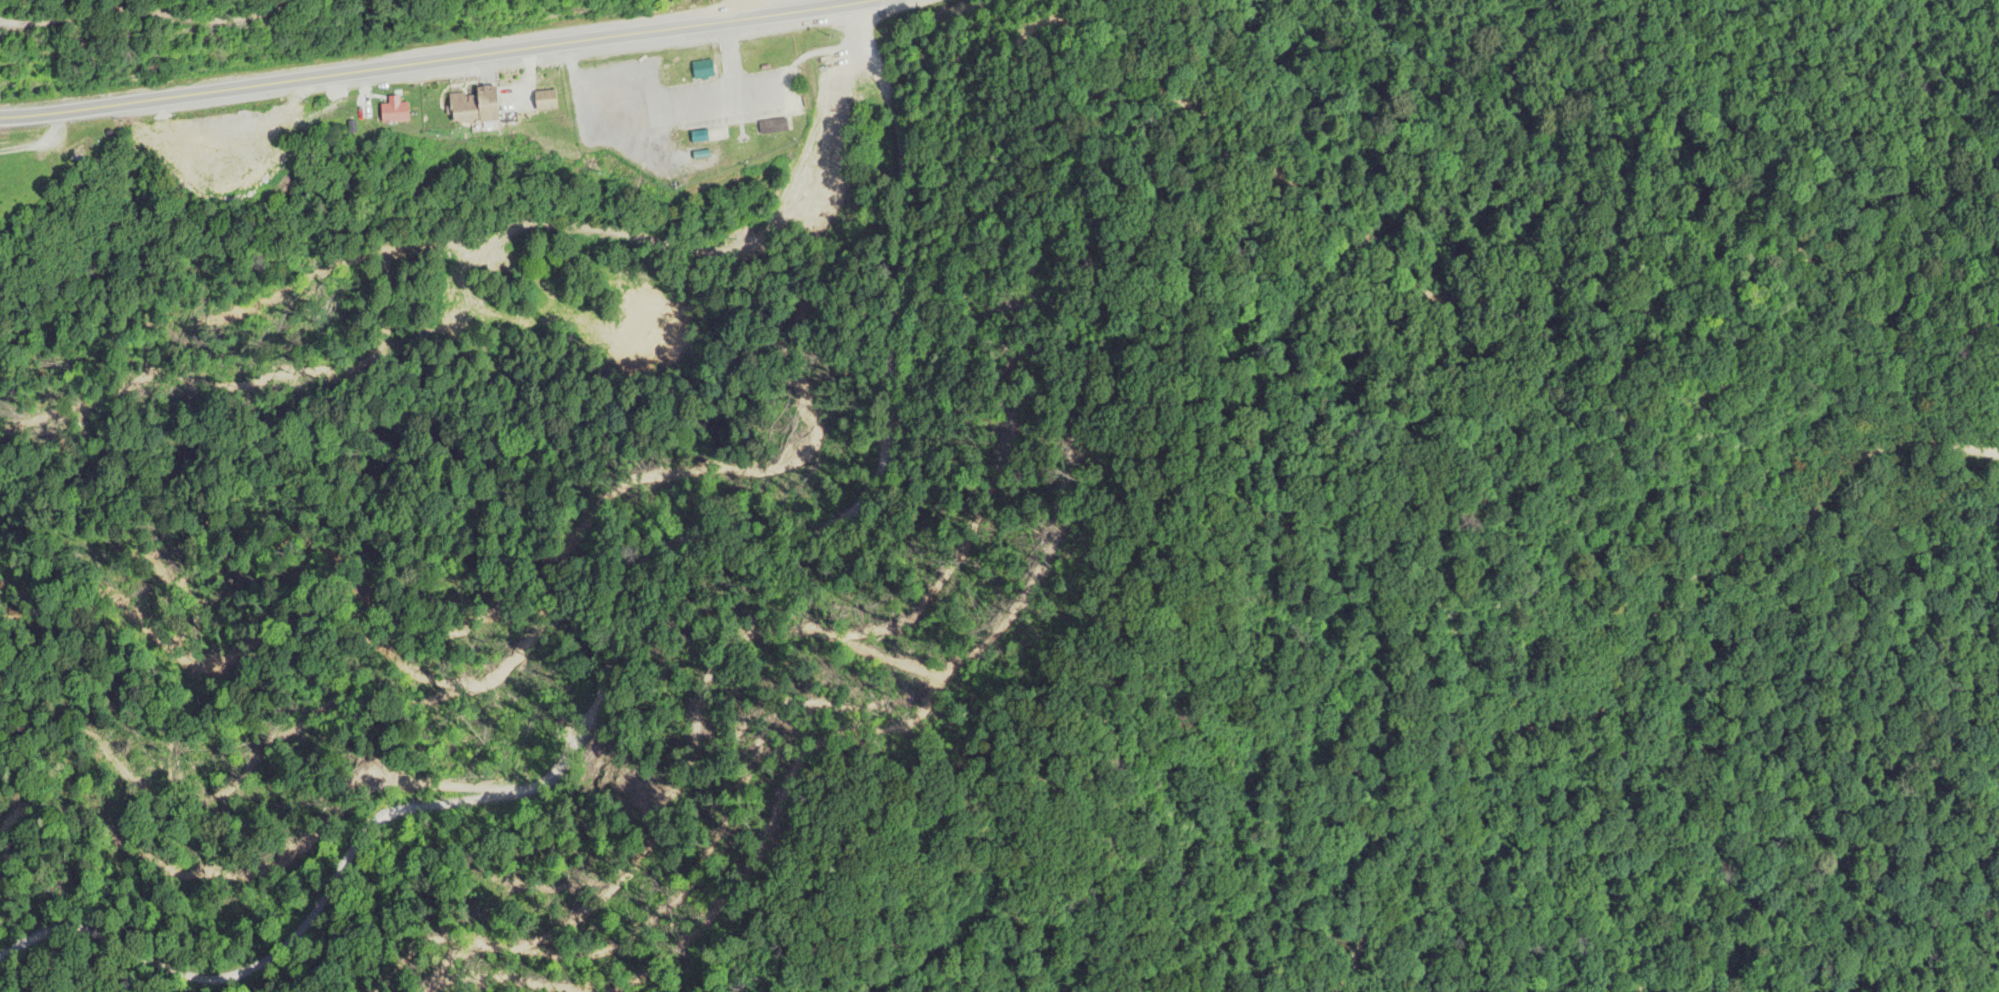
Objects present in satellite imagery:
road: (734, 11)
road: (430, 60)
building: (702, 69)
building: (474, 106)
building: (394, 113)
building: (772, 127)
road: (617, 625)

